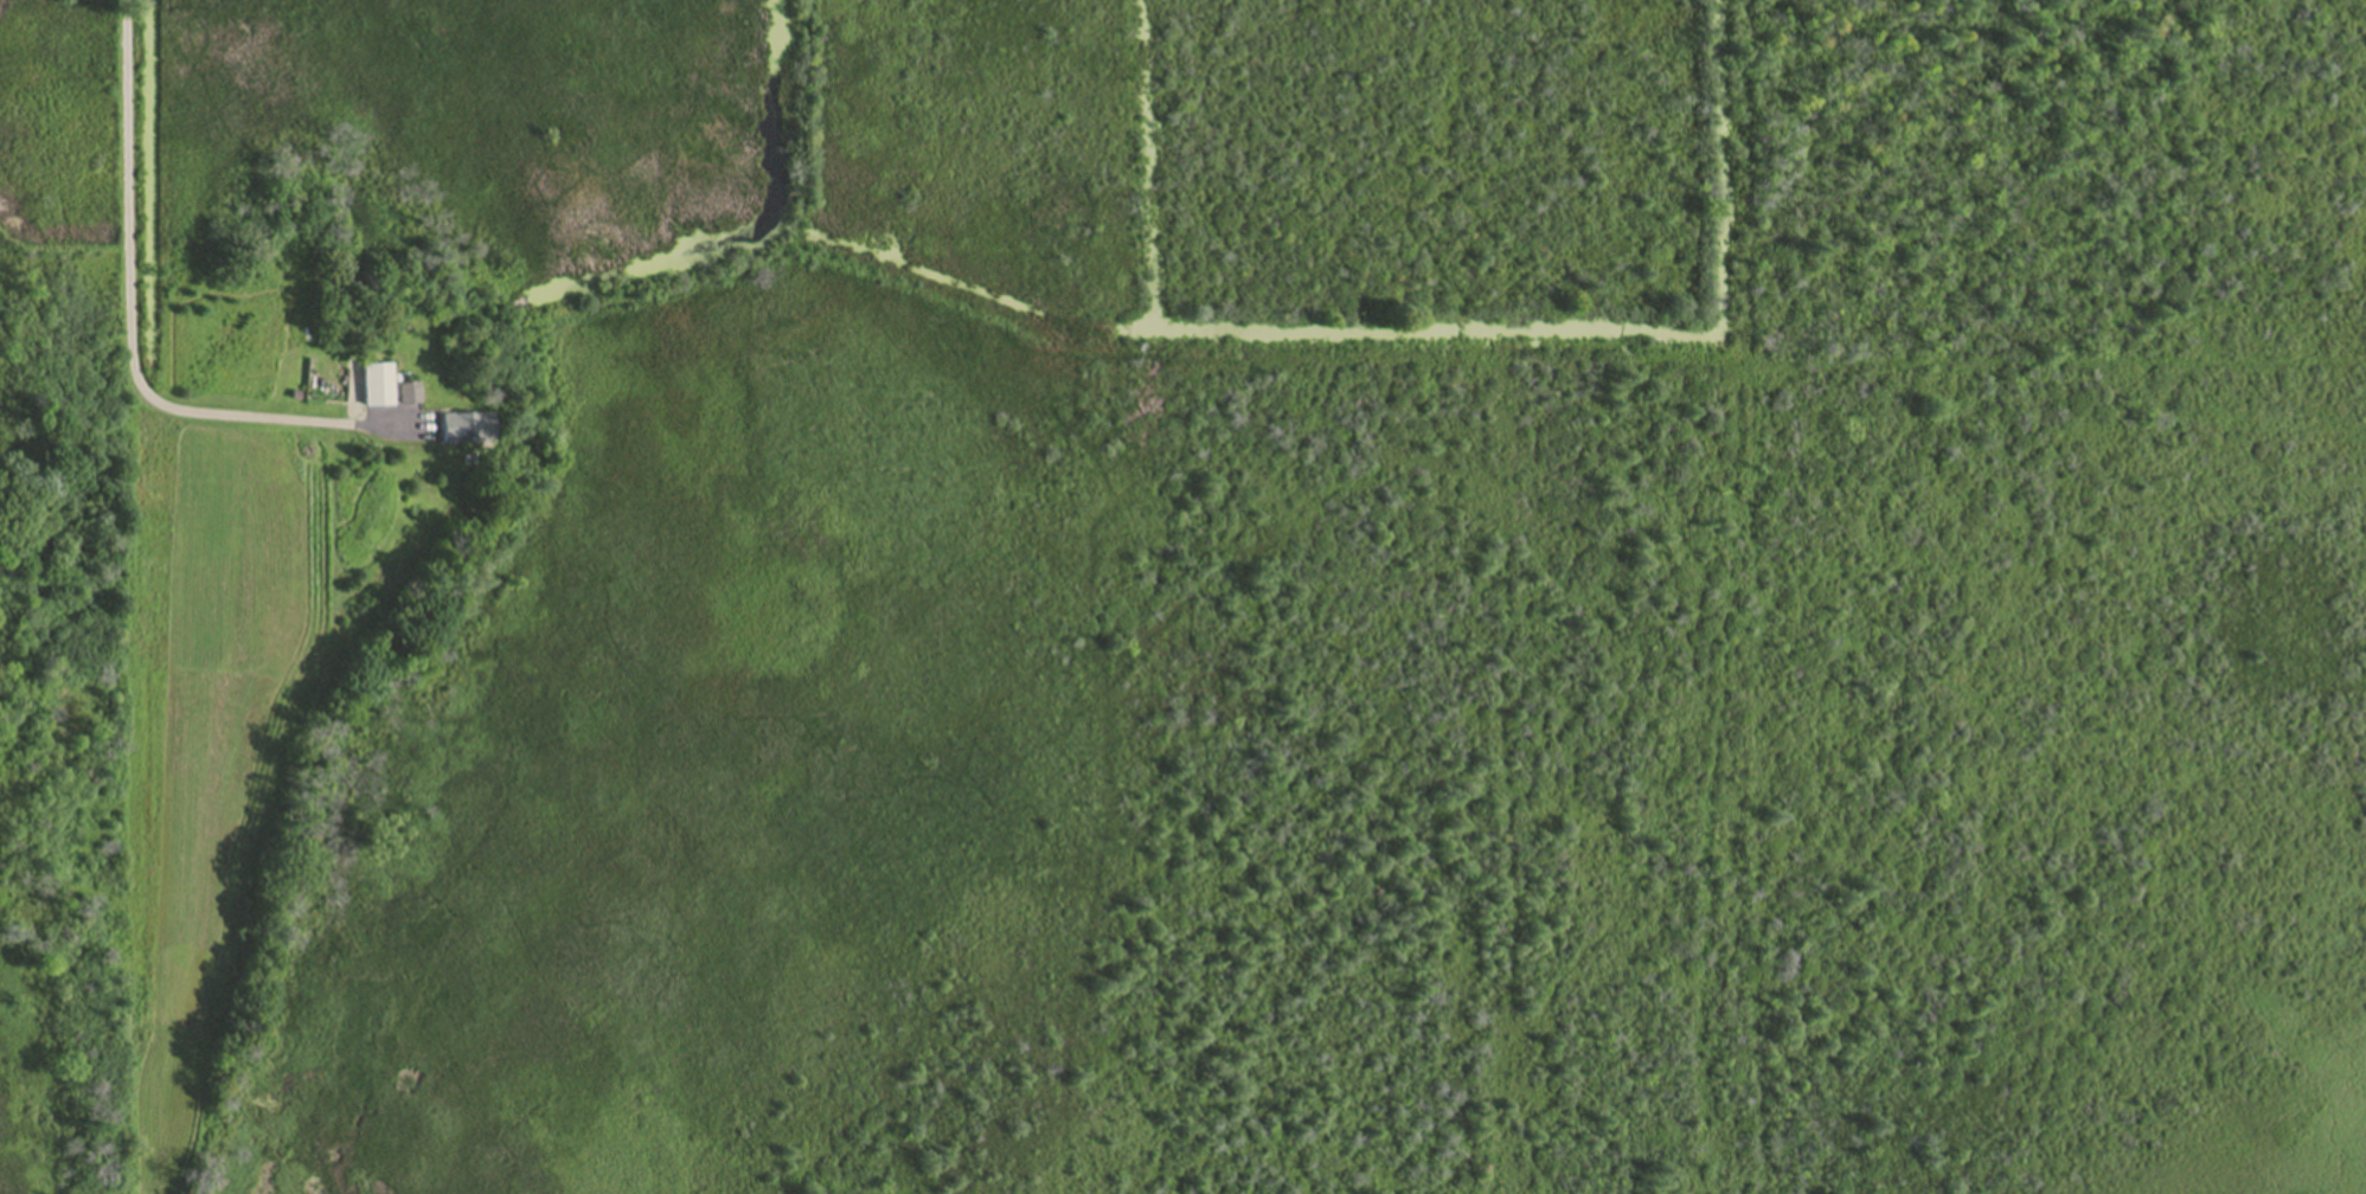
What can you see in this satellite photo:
road: (132, 304)
building: (377, 390)
building: (409, 398)
building: (467, 431)

